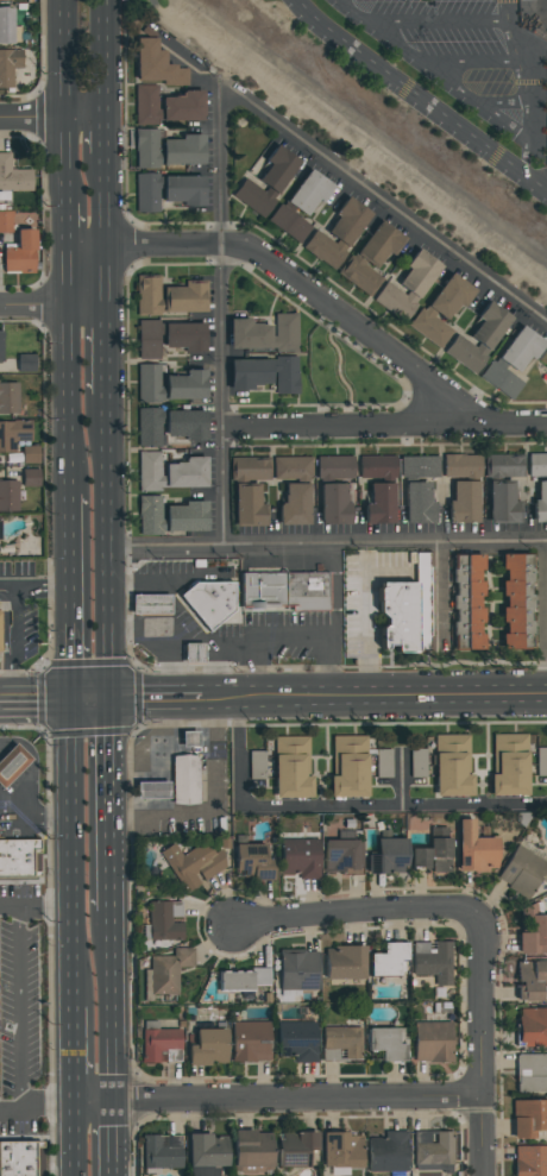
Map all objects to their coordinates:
building: (4, 0)
road: (438, 23)
building: (7, 27)
road: (516, 54)
road: (62, 59)
road: (103, 59)
parking lot: (470, 59)
road: (469, 63)
building: (156, 64)
building: (8, 65)
road: (445, 82)
road: (419, 100)
road: (502, 103)
building: (166, 106)
road: (31, 120)
road: (82, 120)
road: (529, 126)
road: (103, 139)
building: (168, 150)
road: (63, 162)
building: (13, 176)
building: (266, 182)
building: (183, 190)
building: (147, 193)
building: (308, 193)
road: (383, 208)
building: (6, 221)
building: (289, 224)
road: (64, 225)
road: (106, 233)
building: (337, 234)
building: (20, 253)
building: (371, 258)
road: (287, 278)
building: (408, 287)
building: (169, 297)
road: (54, 309)
building: (441, 310)
road: (221, 320)
building: (264, 333)
building: (186, 337)
building: (478, 338)
building: (149, 339)
building: (0, 346)
building: (518, 351)
road: (107, 354)
building: (25, 363)
road: (338, 367)
road: (67, 373)
building: (264, 375)
building: (501, 379)
building: (149, 383)
building: (186, 385)
building: (8, 397)
road: (384, 422)
building: (184, 425)
building: (150, 427)
building: (13, 434)
building: (30, 454)
building: (461, 465)
building: (504, 465)
building: (536, 465)
building: (293, 466)
building: (377, 466)
building: (419, 466)
building: (334, 467)
building: (170, 472)
building: (249, 490)
building: (8, 496)
building: (333, 503)
building: (417, 503)
building: (463, 503)
building: (502, 503)
building: (540, 503)
building: (379, 504)
building: (294, 505)
building: (171, 516)
road: (402, 541)
road: (112, 548)
road: (44, 586)
road: (436, 592)
building: (254, 596)
road: (73, 598)
building: (150, 604)
road: (172, 612)
building: (411, 614)
road: (15, 615)
road: (367, 617)
road: (333, 618)
building: (0, 630)
road: (253, 640)
road: (10, 644)
building: (193, 653)
road: (257, 667)
road: (375, 691)
road: (159, 696)
road: (37, 697)
traffic signals: (75, 697)
road: (95, 697)
traffic signals: (115, 697)
road: (165, 749)
building: (541, 761)
building: (383, 762)
building: (11, 763)
building: (257, 763)
building: (509, 763)
building: (348, 765)
building: (417, 765)
building: (452, 765)
building: (291, 766)
road: (33, 767)
building: (186, 771)
gas station: (178, 781)
gas station: (25, 785)
building: (152, 787)
road: (115, 803)
road: (215, 803)
road: (340, 805)
road: (32, 817)
building: (474, 847)
building: (439, 849)
road: (74, 850)
building: (340, 855)
building: (419, 855)
building: (300, 857)
building: (19, 859)
building: (252, 861)
building: (193, 864)
building: (522, 870)
road: (36, 908)
road: (357, 912)
building: (164, 920)
building: (533, 931)
building: (345, 961)
building: (433, 961)
building: (297, 969)
building: (169, 970)
building: (260, 976)
building: (530, 979)
building: (234, 981)
road: (114, 1006)
road: (20, 1008)
building: (532, 1026)
building: (251, 1039)
building: (296, 1040)
building: (432, 1040)
building: (340, 1043)
building: (385, 1043)
building: (207, 1046)
road: (483, 1046)
road: (74, 1055)
building: (530, 1074)
road: (278, 1100)
road: (36, 1105)
building: (528, 1117)
road: (74, 1140)
road: (114, 1140)
building: (294, 1147)
building: (252, 1149)
building: (340, 1149)
building: (432, 1150)
building: (162, 1151)
building: (388, 1151)
building: (205, 1153)
building: (21, 1159)
building: (530, 1161)

